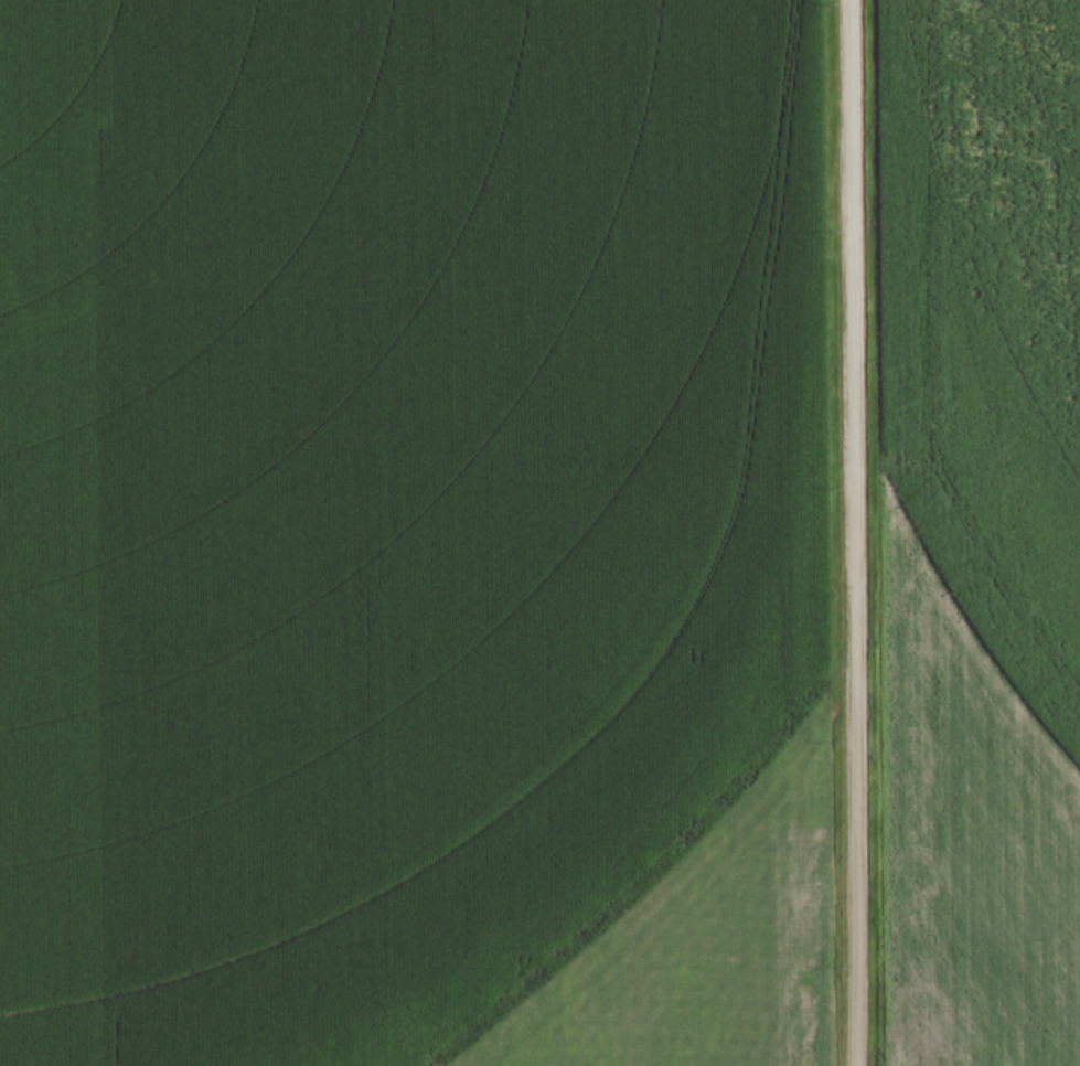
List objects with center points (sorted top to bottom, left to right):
crop: (408, 526)
crop: (980, 530)
road: (855, 533)

